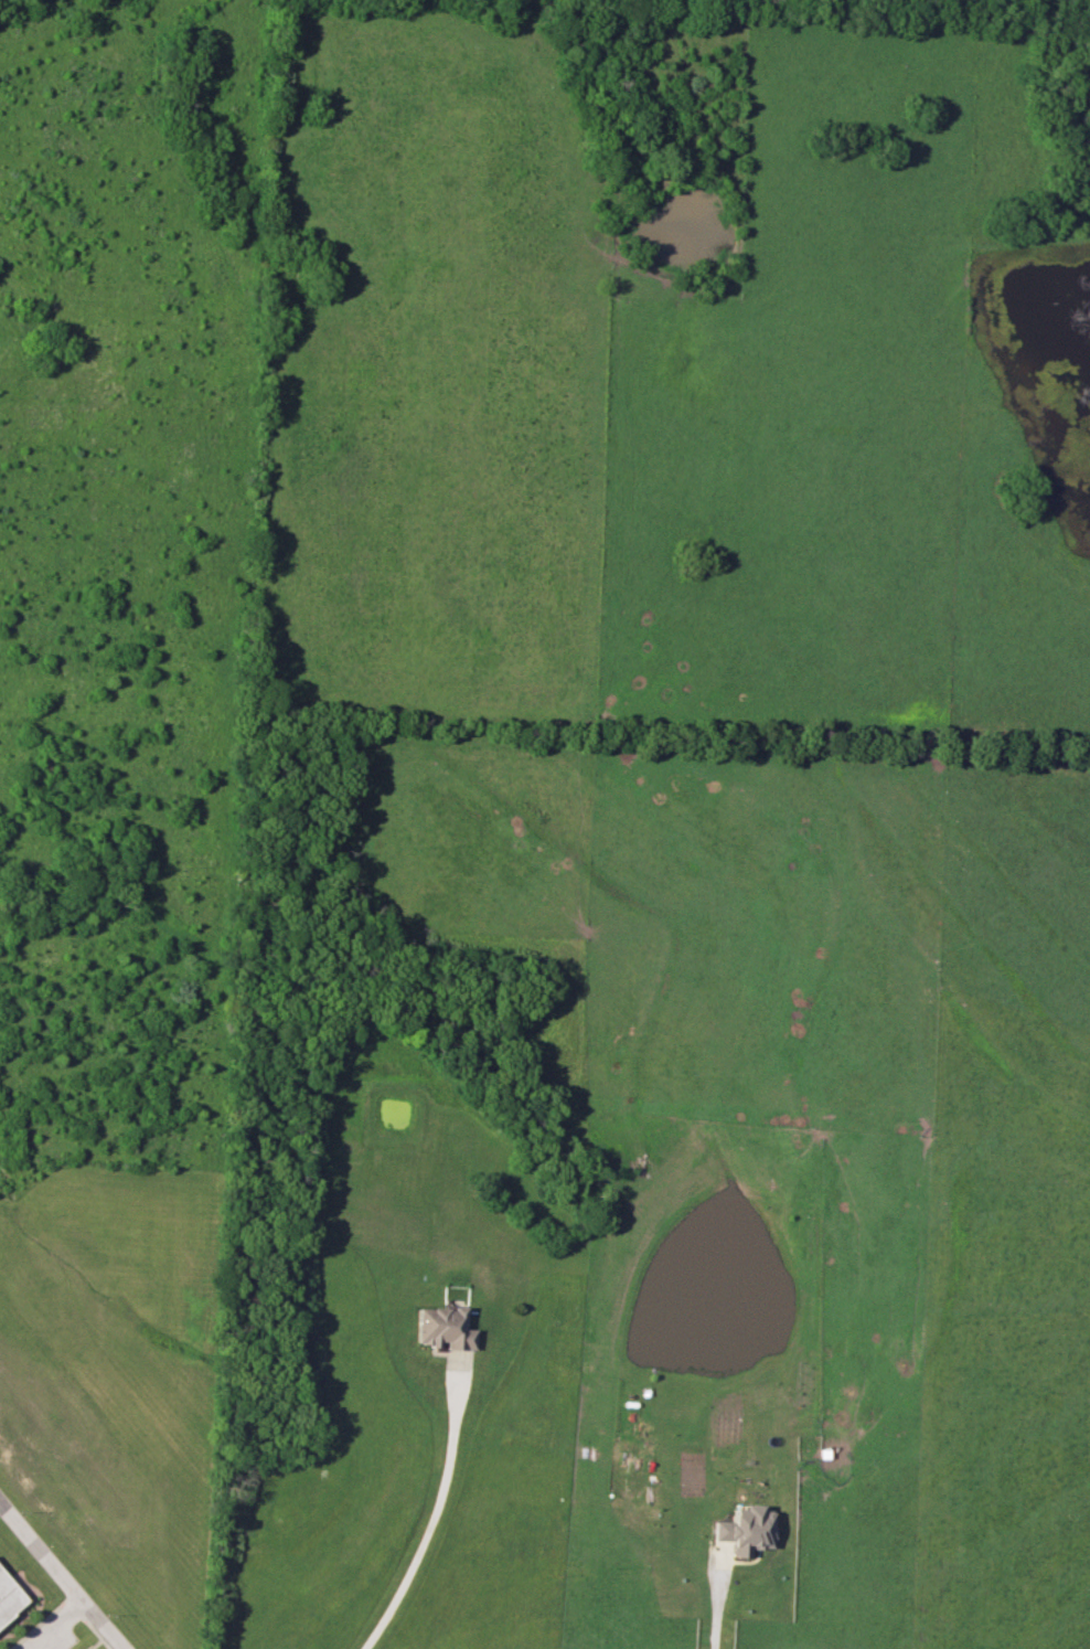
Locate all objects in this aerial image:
building: (441, 1328)
road: (429, 1512)
building: (744, 1530)
road: (43, 1550)
building: (9, 1596)
road: (713, 1599)
road: (58, 1626)
road: (105, 1626)

